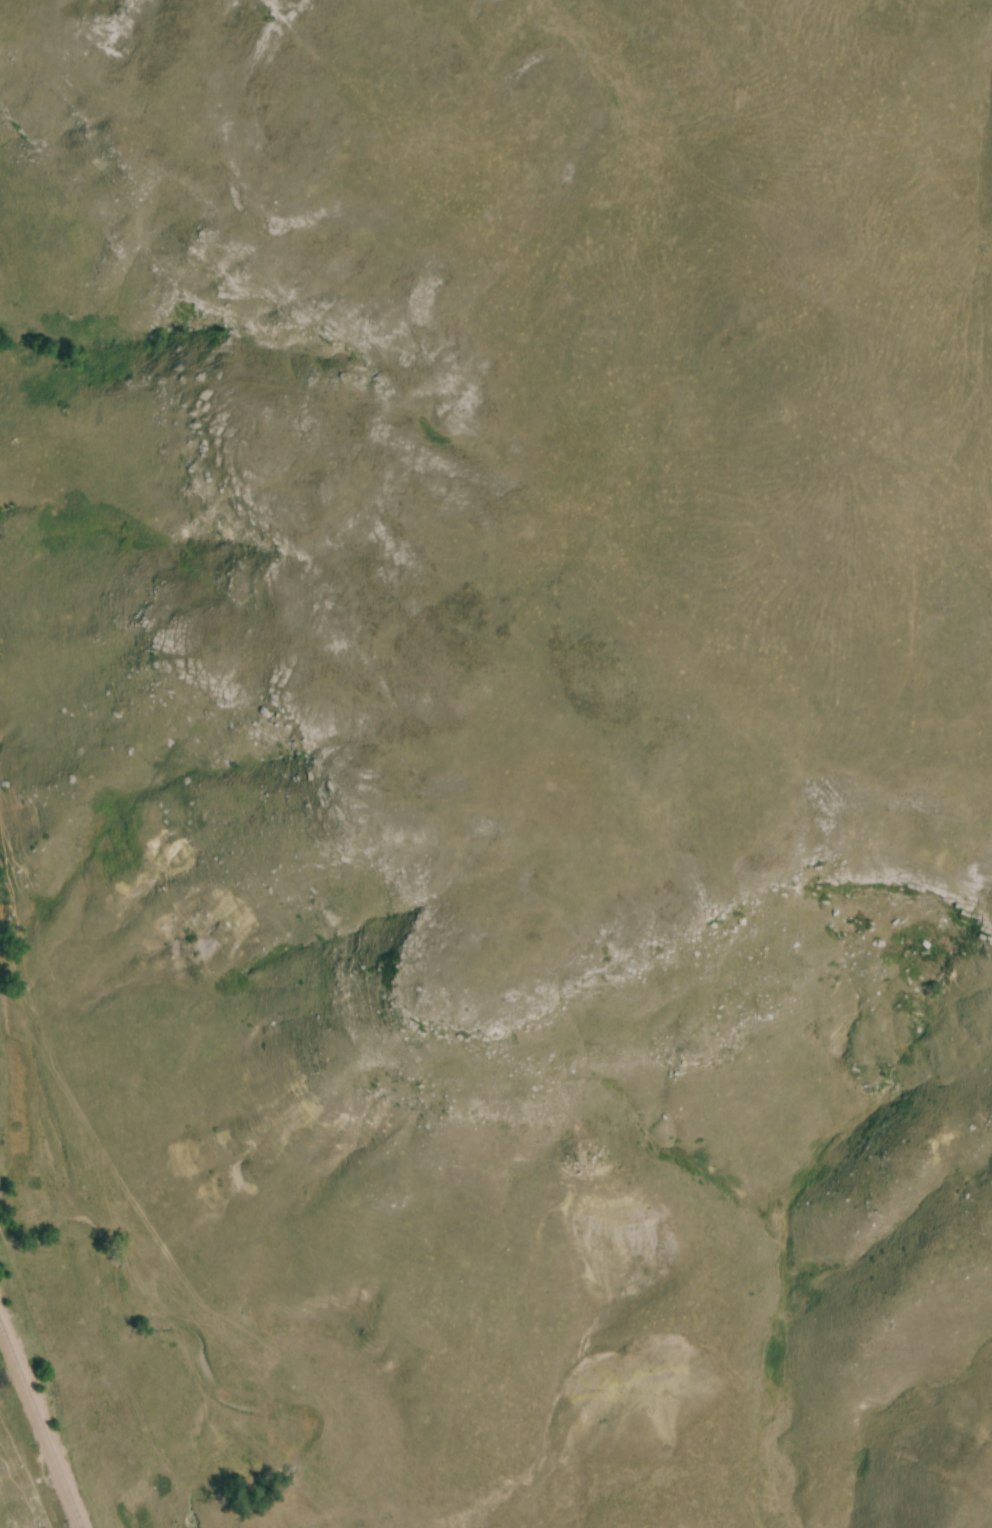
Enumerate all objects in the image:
railway: (41, 1427)

